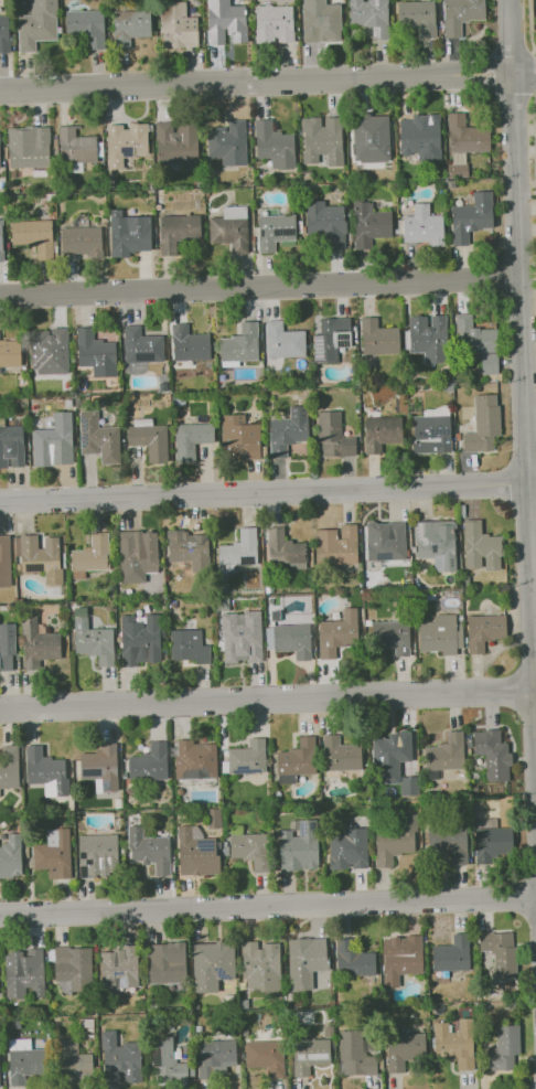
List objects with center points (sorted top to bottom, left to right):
building: (369, 15)
building: (417, 17)
building: (225, 21)
building: (320, 21)
building: (272, 23)
road: (533, 23)
building: (36, 24)
building: (176, 25)
building: (86, 26)
building: (129, 26)
building: (3, 33)
road: (524, 72)
road: (256, 82)
road: (534, 134)
building: (465, 135)
building: (420, 137)
building: (371, 138)
building: (321, 139)
building: (125, 142)
building: (227, 142)
building: (274, 145)
building: (175, 146)
building: (28, 147)
building: (75, 147)
building: (471, 216)
building: (325, 223)
building: (368, 224)
building: (422, 226)
building: (229, 228)
building: (176, 231)
building: (274, 231)
building: (128, 234)
building: (34, 236)
building: (81, 241)
road: (260, 287)
building: (428, 337)
building: (377, 338)
building: (330, 339)
building: (282, 341)
building: (476, 342)
building: (239, 343)
building: (189, 344)
building: (141, 345)
building: (49, 350)
building: (10, 352)
building: (95, 353)
road: (522, 356)
building: (483, 424)
building: (431, 430)
building: (287, 431)
building: (380, 433)
building: (333, 436)
building: (98, 438)
building: (148, 438)
building: (239, 438)
building: (190, 439)
building: (53, 441)
building: (11, 446)
road: (268, 492)
building: (385, 541)
building: (436, 543)
building: (335, 545)
building: (480, 547)
building: (239, 548)
building: (189, 549)
building: (283, 549)
building: (137, 555)
building: (90, 556)
building: (39, 557)
building: (4, 560)
building: (483, 631)
building: (337, 633)
building: (440, 634)
building: (390, 636)
building: (240, 637)
building: (92, 639)
building: (289, 639)
building: (139, 640)
building: (7, 647)
building: (187, 647)
road: (267, 697)
building: (446, 752)
building: (340, 754)
building: (492, 754)
building: (389, 756)
building: (247, 757)
building: (194, 759)
building: (296, 760)
building: (149, 762)
building: (9, 766)
building: (100, 767)
building: (45, 771)
building: (408, 786)
building: (213, 818)
building: (394, 840)
building: (448, 843)
building: (491, 843)
building: (298, 846)
building: (347, 848)
building: (149, 850)
building: (250, 850)
building: (195, 852)
building: (53, 854)
building: (97, 855)
building: (10, 856)
road: (268, 906)
building: (500, 951)
building: (451, 954)
building: (400, 958)
building: (352, 959)
building: (304, 961)
building: (165, 962)
building: (212, 964)
building: (260, 965)
building: (73, 967)
building: (118, 968)
building: (23, 973)
building: (454, 1043)
building: (503, 1048)
building: (403, 1049)
building: (309, 1055)
building: (354, 1055)
building: (265, 1056)
building: (213, 1057)
building: (119, 1059)
building: (23, 1060)
building: (167, 1061)
building: (73, 1063)
road: (534, 1088)

